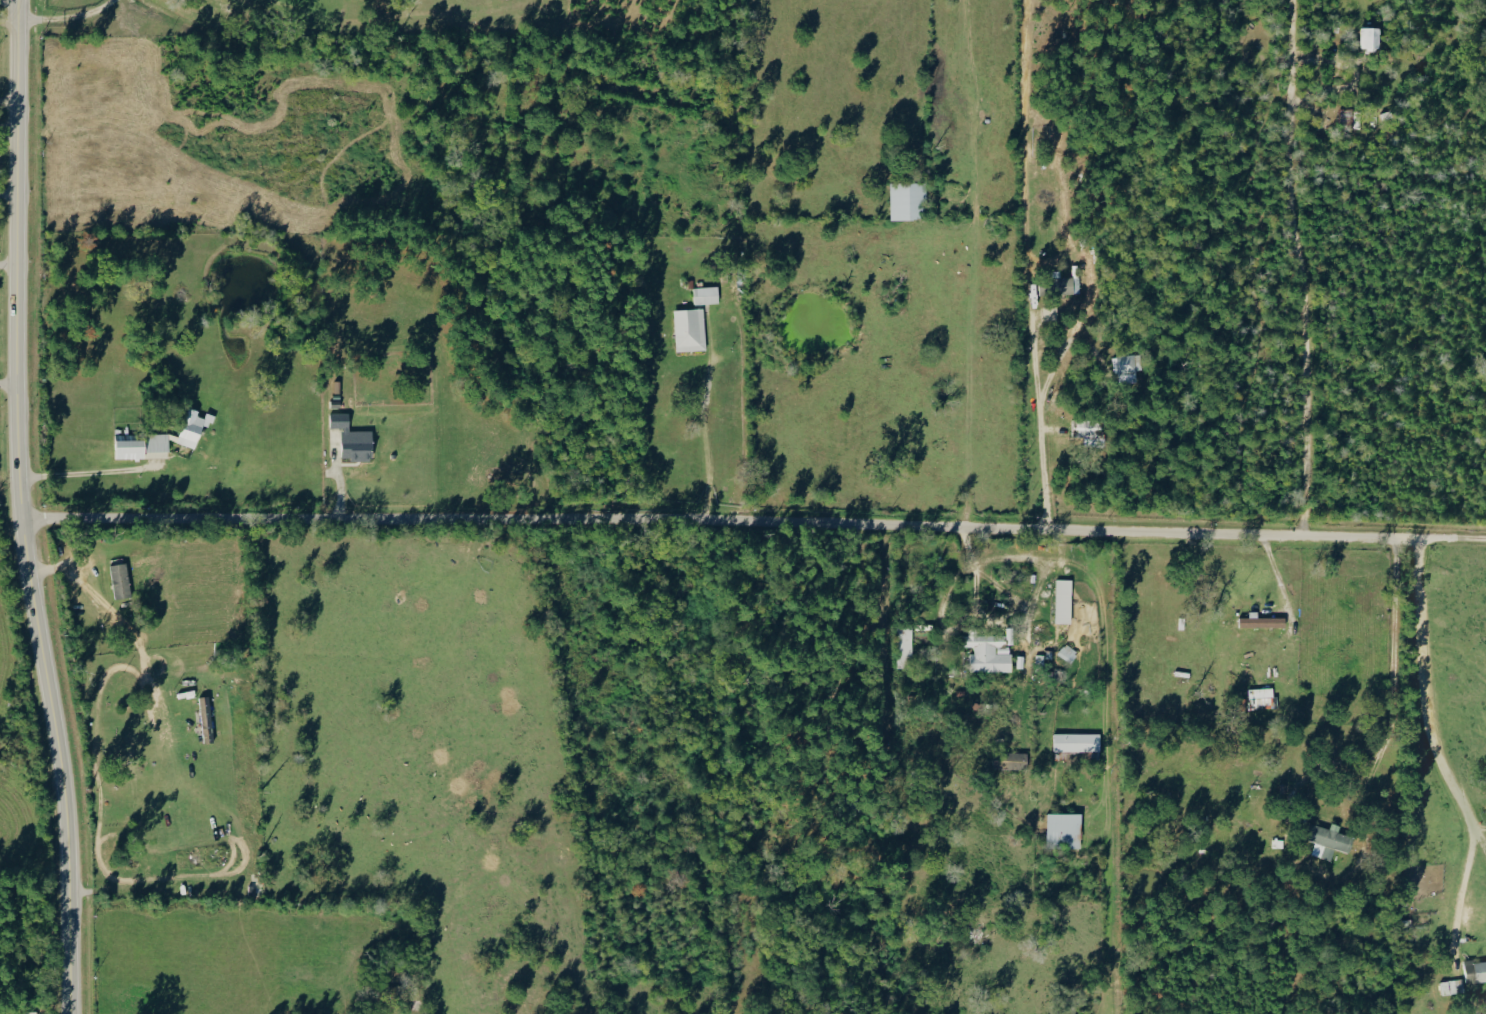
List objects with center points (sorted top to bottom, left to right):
road: (67, 17)
road: (8, 25)
building: (1369, 37)
road: (9, 199)
building: (907, 200)
road: (1299, 269)
building: (1067, 283)
building: (706, 295)
building: (689, 330)
building: (1127, 368)
road: (7, 389)
road: (1044, 406)
road: (706, 418)
building: (352, 439)
road: (90, 479)
road: (22, 508)
road: (717, 525)
road: (1448, 537)
building: (120, 580)
building: (1063, 601)
road: (114, 611)
road: (983, 617)
building: (1261, 621)
building: (905, 646)
building: (989, 651)
building: (1260, 698)
road: (1418, 707)
building: (206, 720)
building: (1077, 742)
building: (1010, 761)
building: (1063, 830)
building: (1325, 840)
road: (1461, 895)
building: (1475, 973)
building: (1484, 1001)

